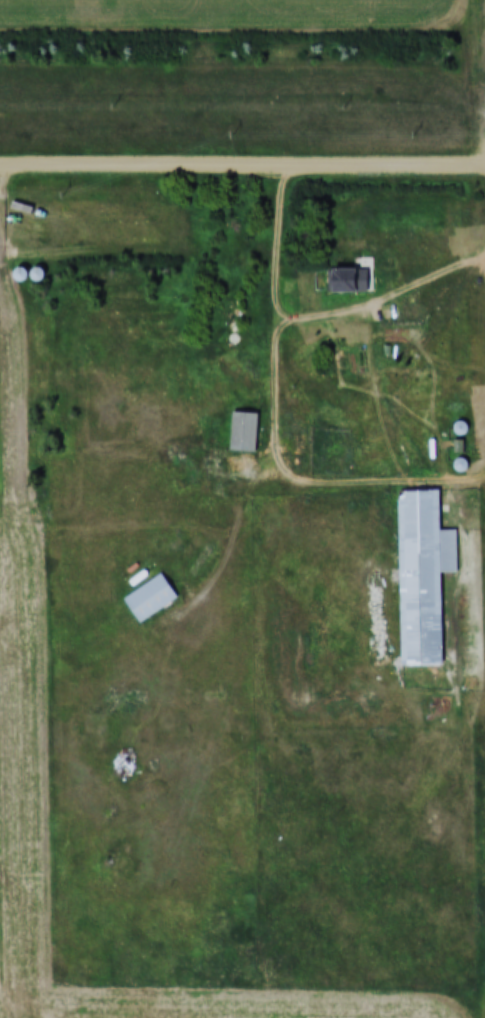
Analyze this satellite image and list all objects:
road: (242, 164)
building: (347, 278)
road: (311, 318)
building: (245, 430)
road: (410, 485)
building: (425, 574)
building: (153, 597)

